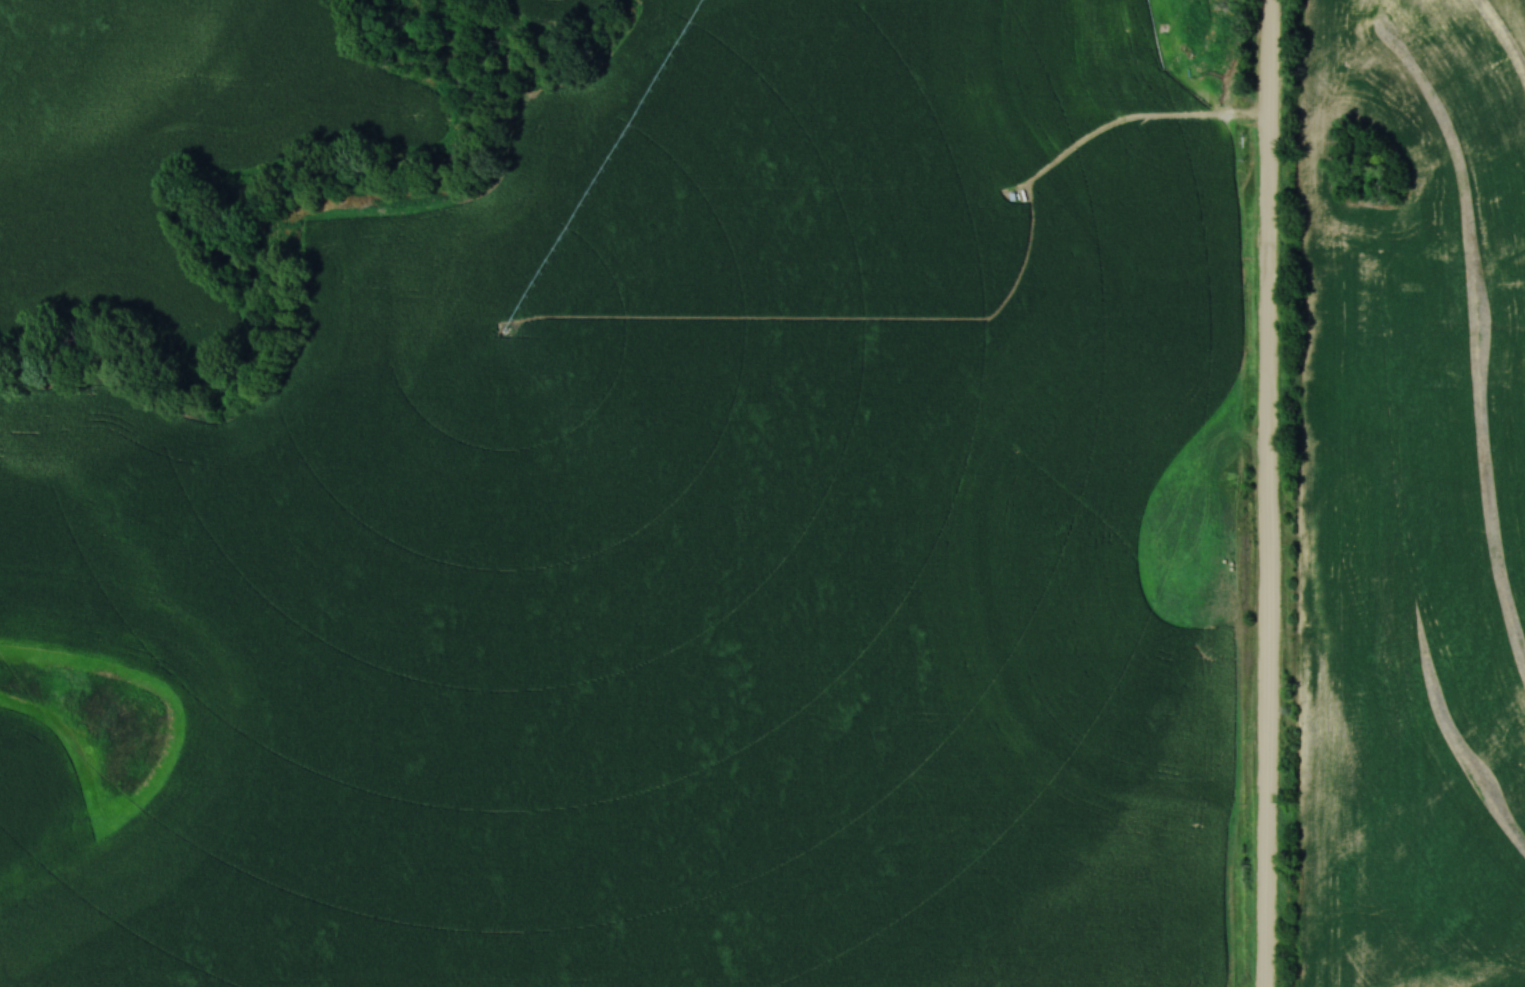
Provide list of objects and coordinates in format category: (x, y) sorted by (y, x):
road: (1149, 113)
road: (1269, 493)

